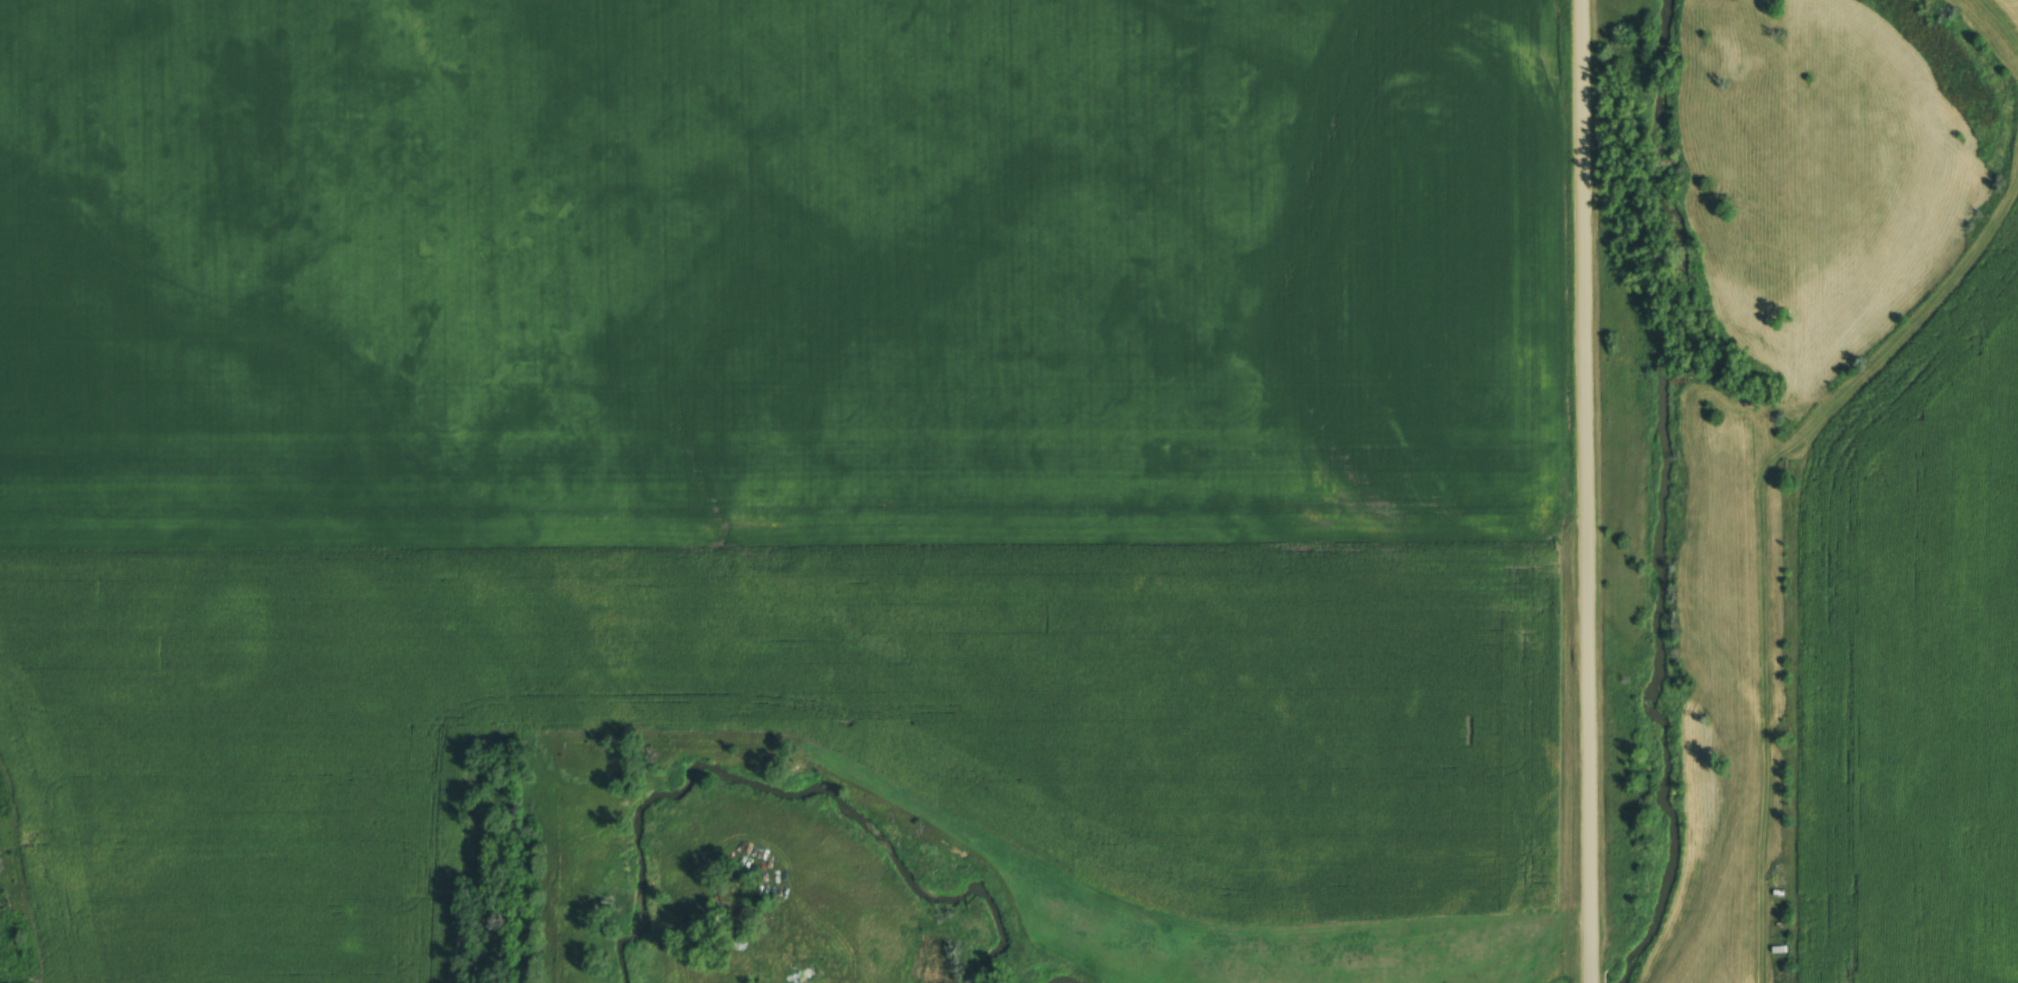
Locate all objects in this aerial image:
road: (1583, 491)
river: (1667, 500)
river: (772, 810)

